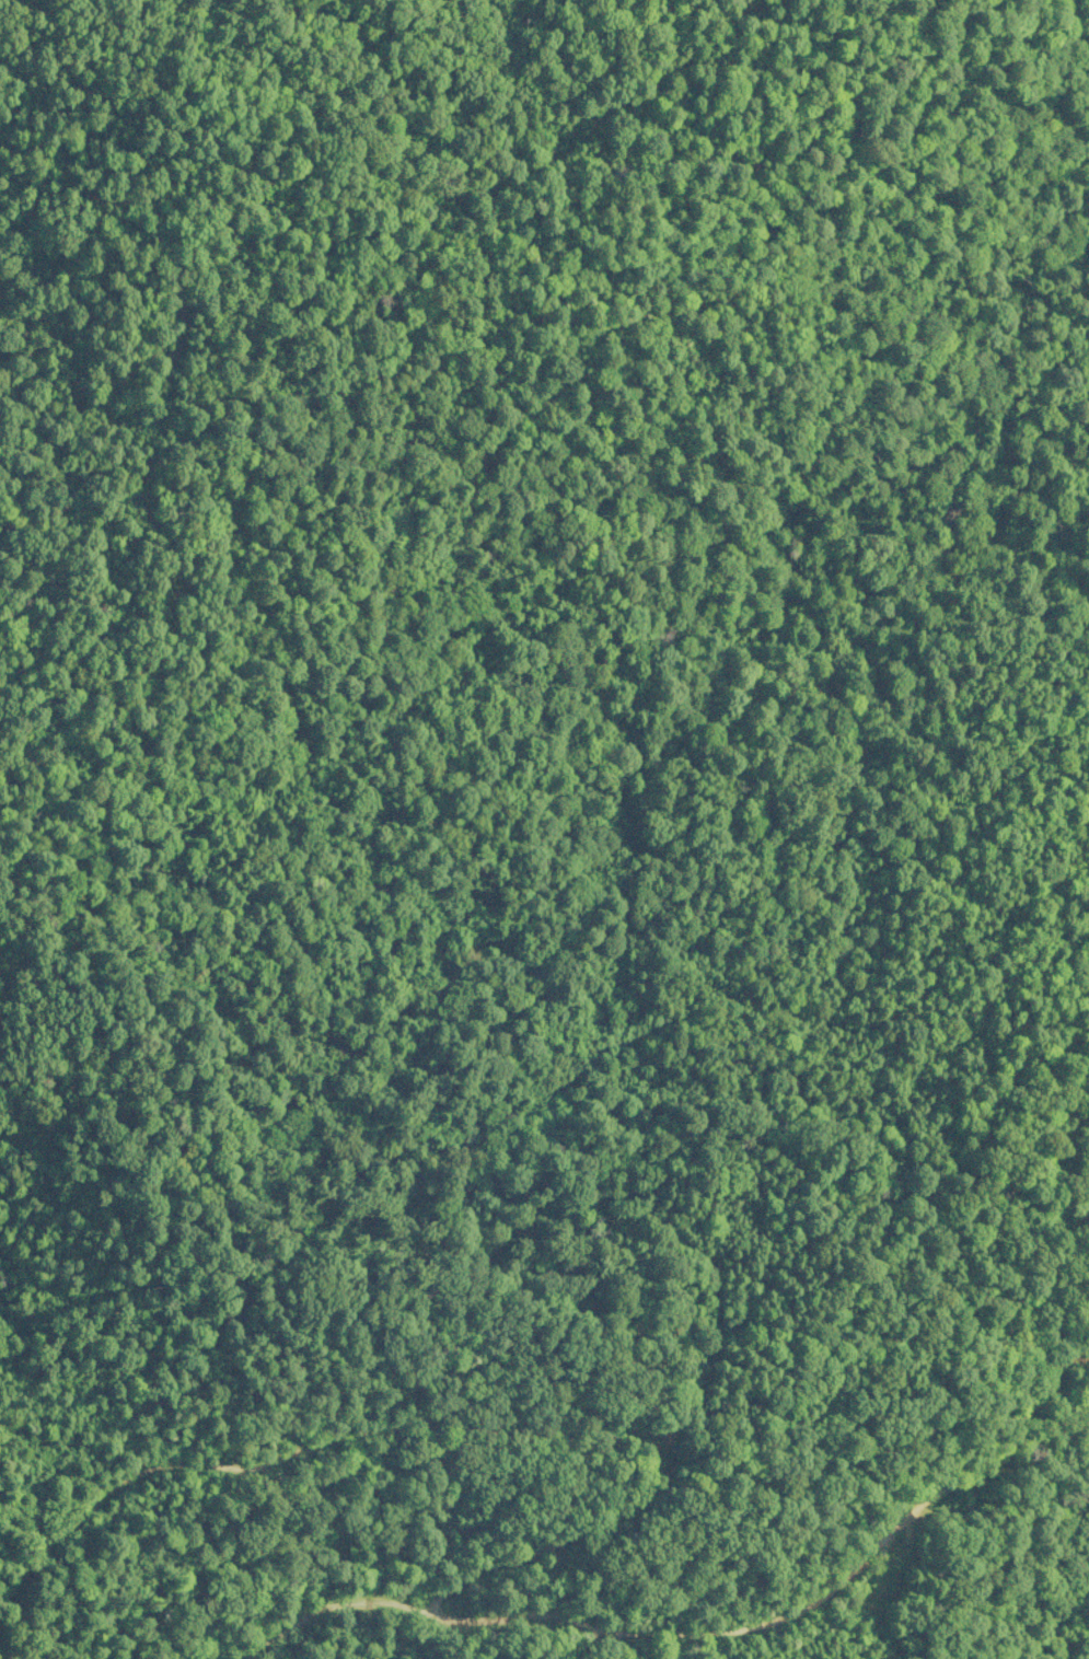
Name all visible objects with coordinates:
road: (928, 1451)

